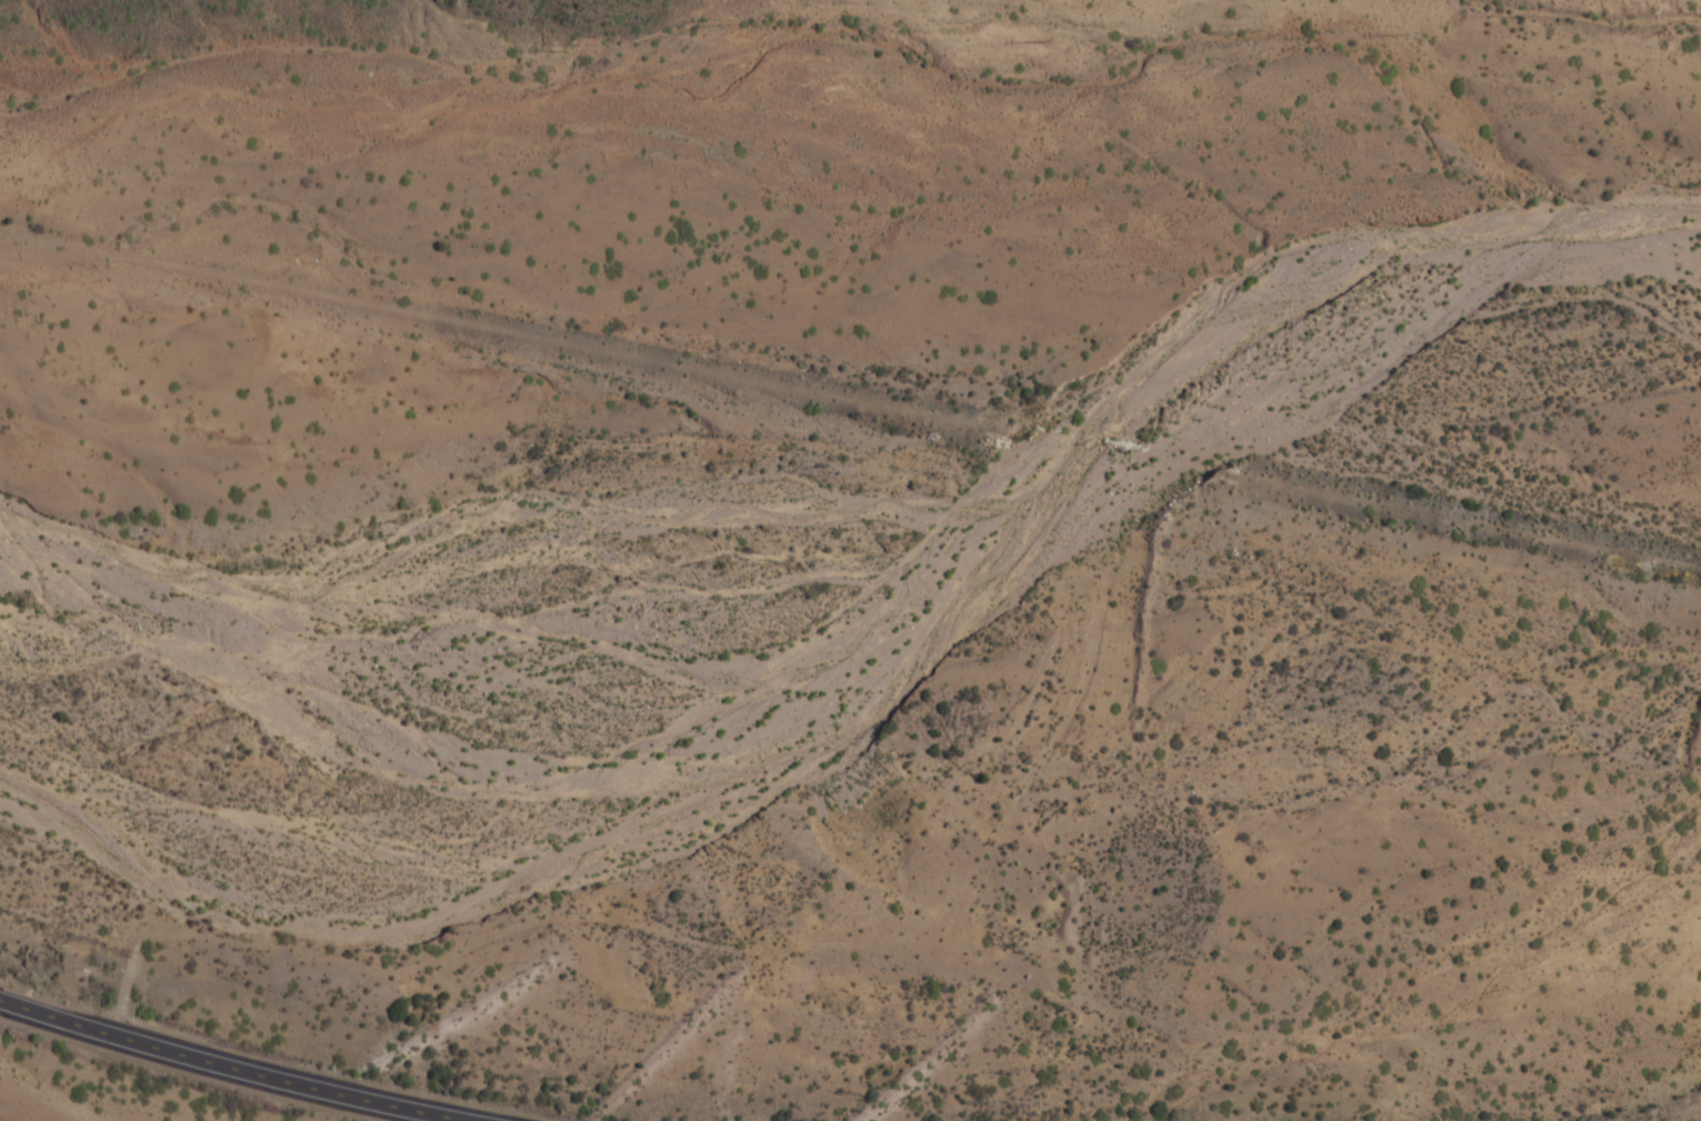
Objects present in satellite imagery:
road: (227, 1065)

